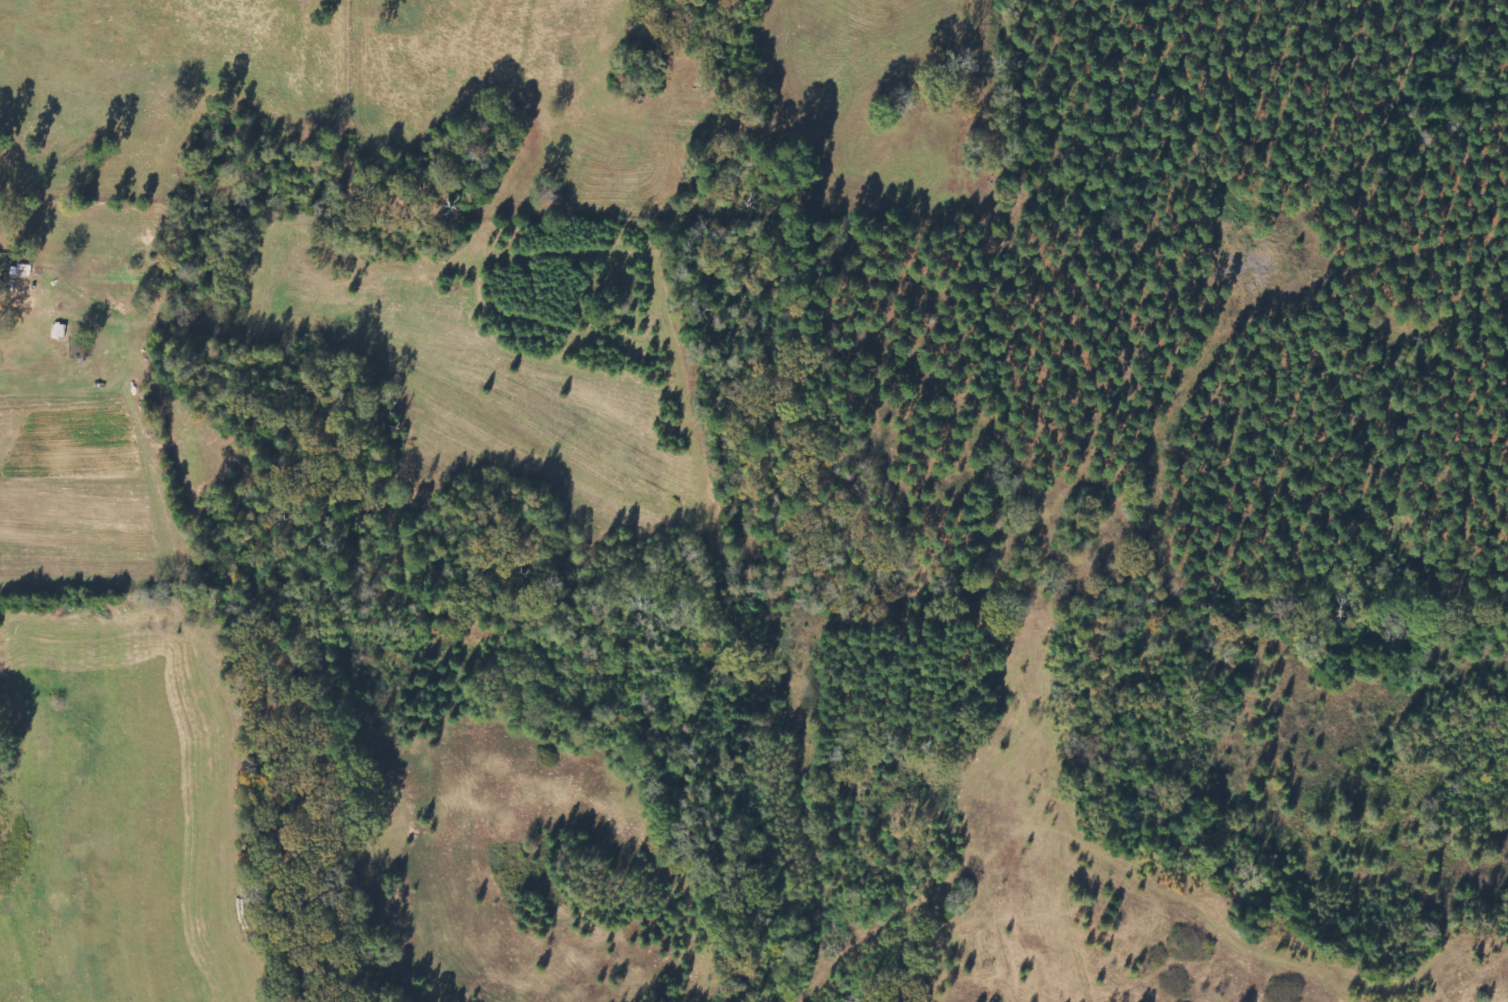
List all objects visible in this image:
road: (210, 719)

